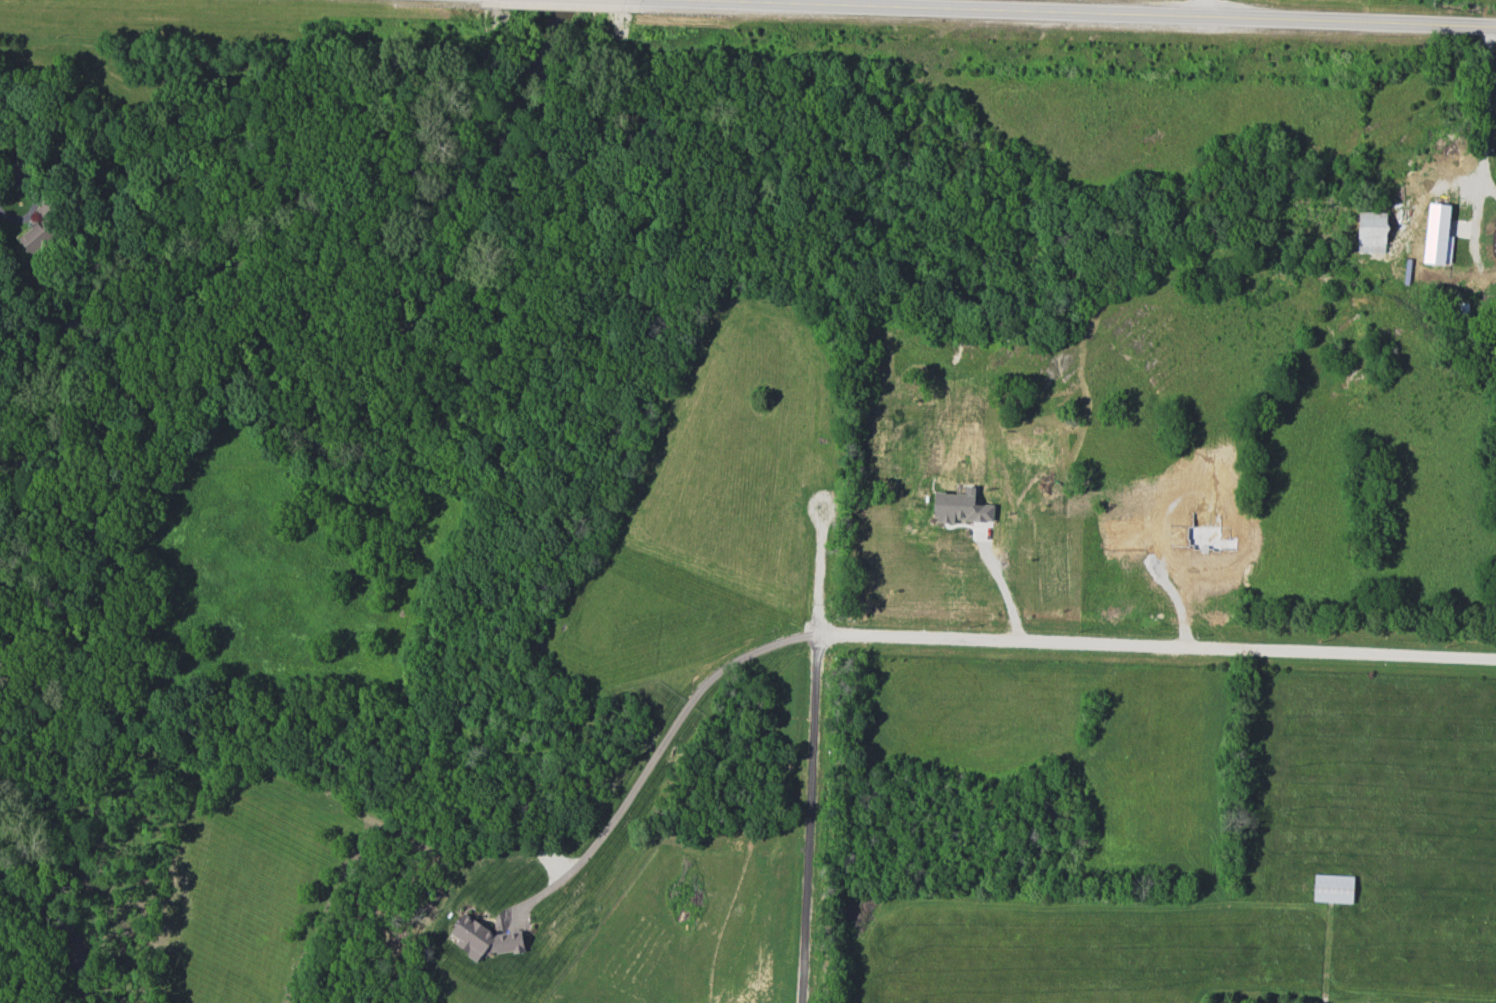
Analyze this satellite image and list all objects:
road: (1205, 8)
road: (1113, 13)
road: (1481, 122)
road: (37, 201)
building: (49, 209)
building: (1371, 232)
building: (1437, 235)
building: (35, 238)
building: (960, 509)
road: (1004, 582)
road: (948, 636)
road: (804, 819)
building: (1333, 888)
building: (485, 939)

